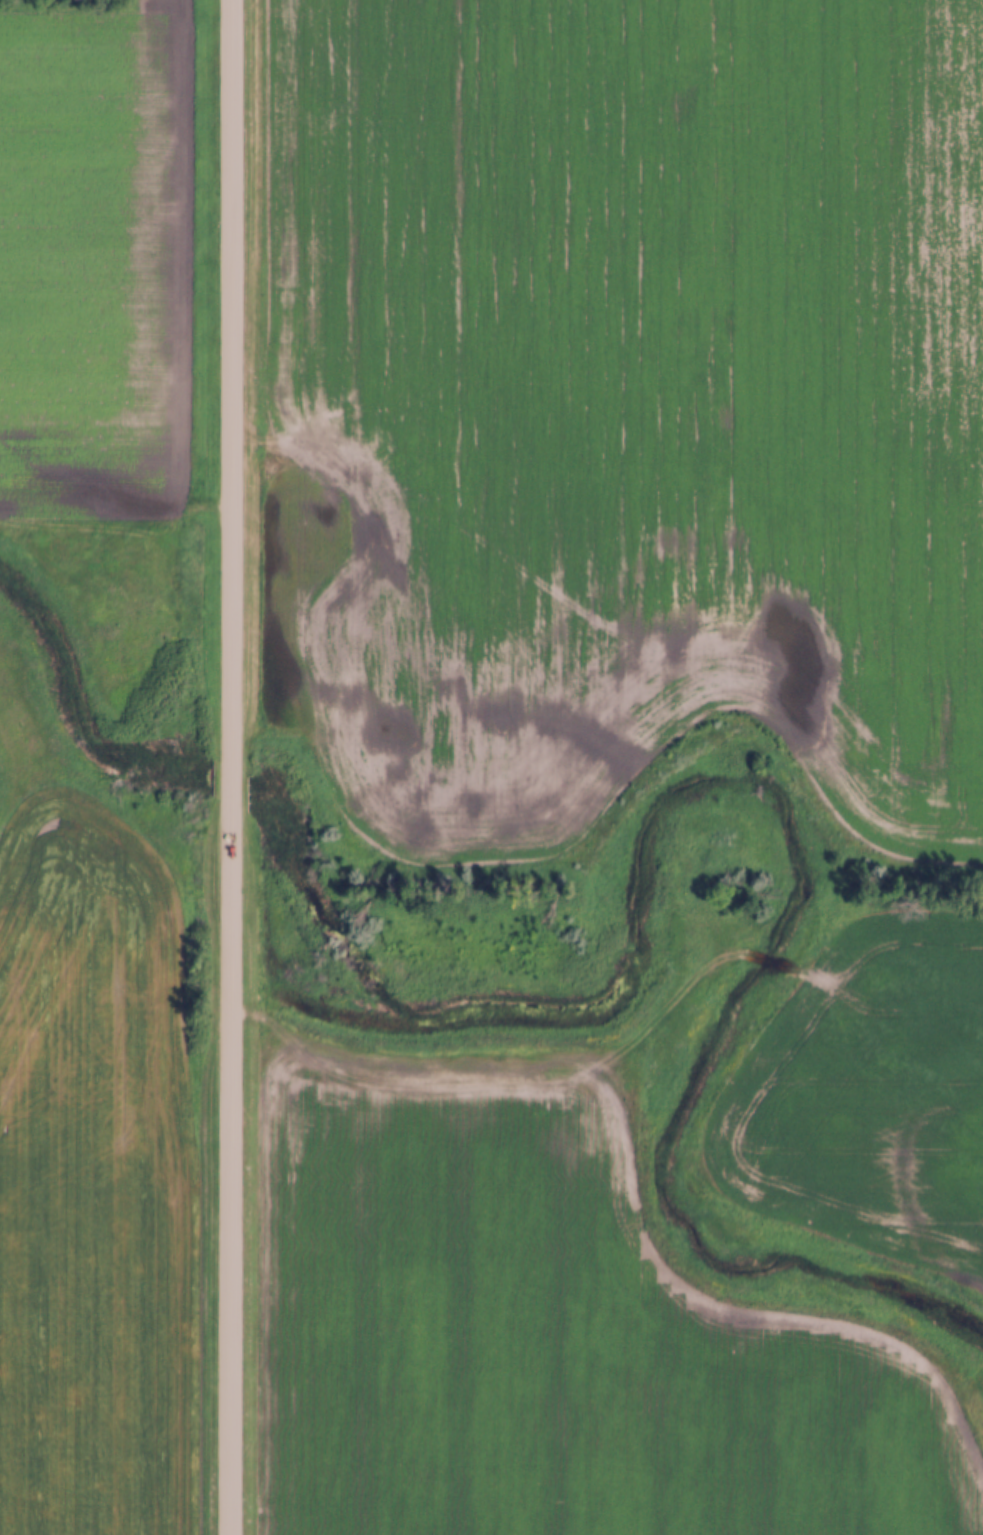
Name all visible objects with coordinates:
road: (232, 767)

